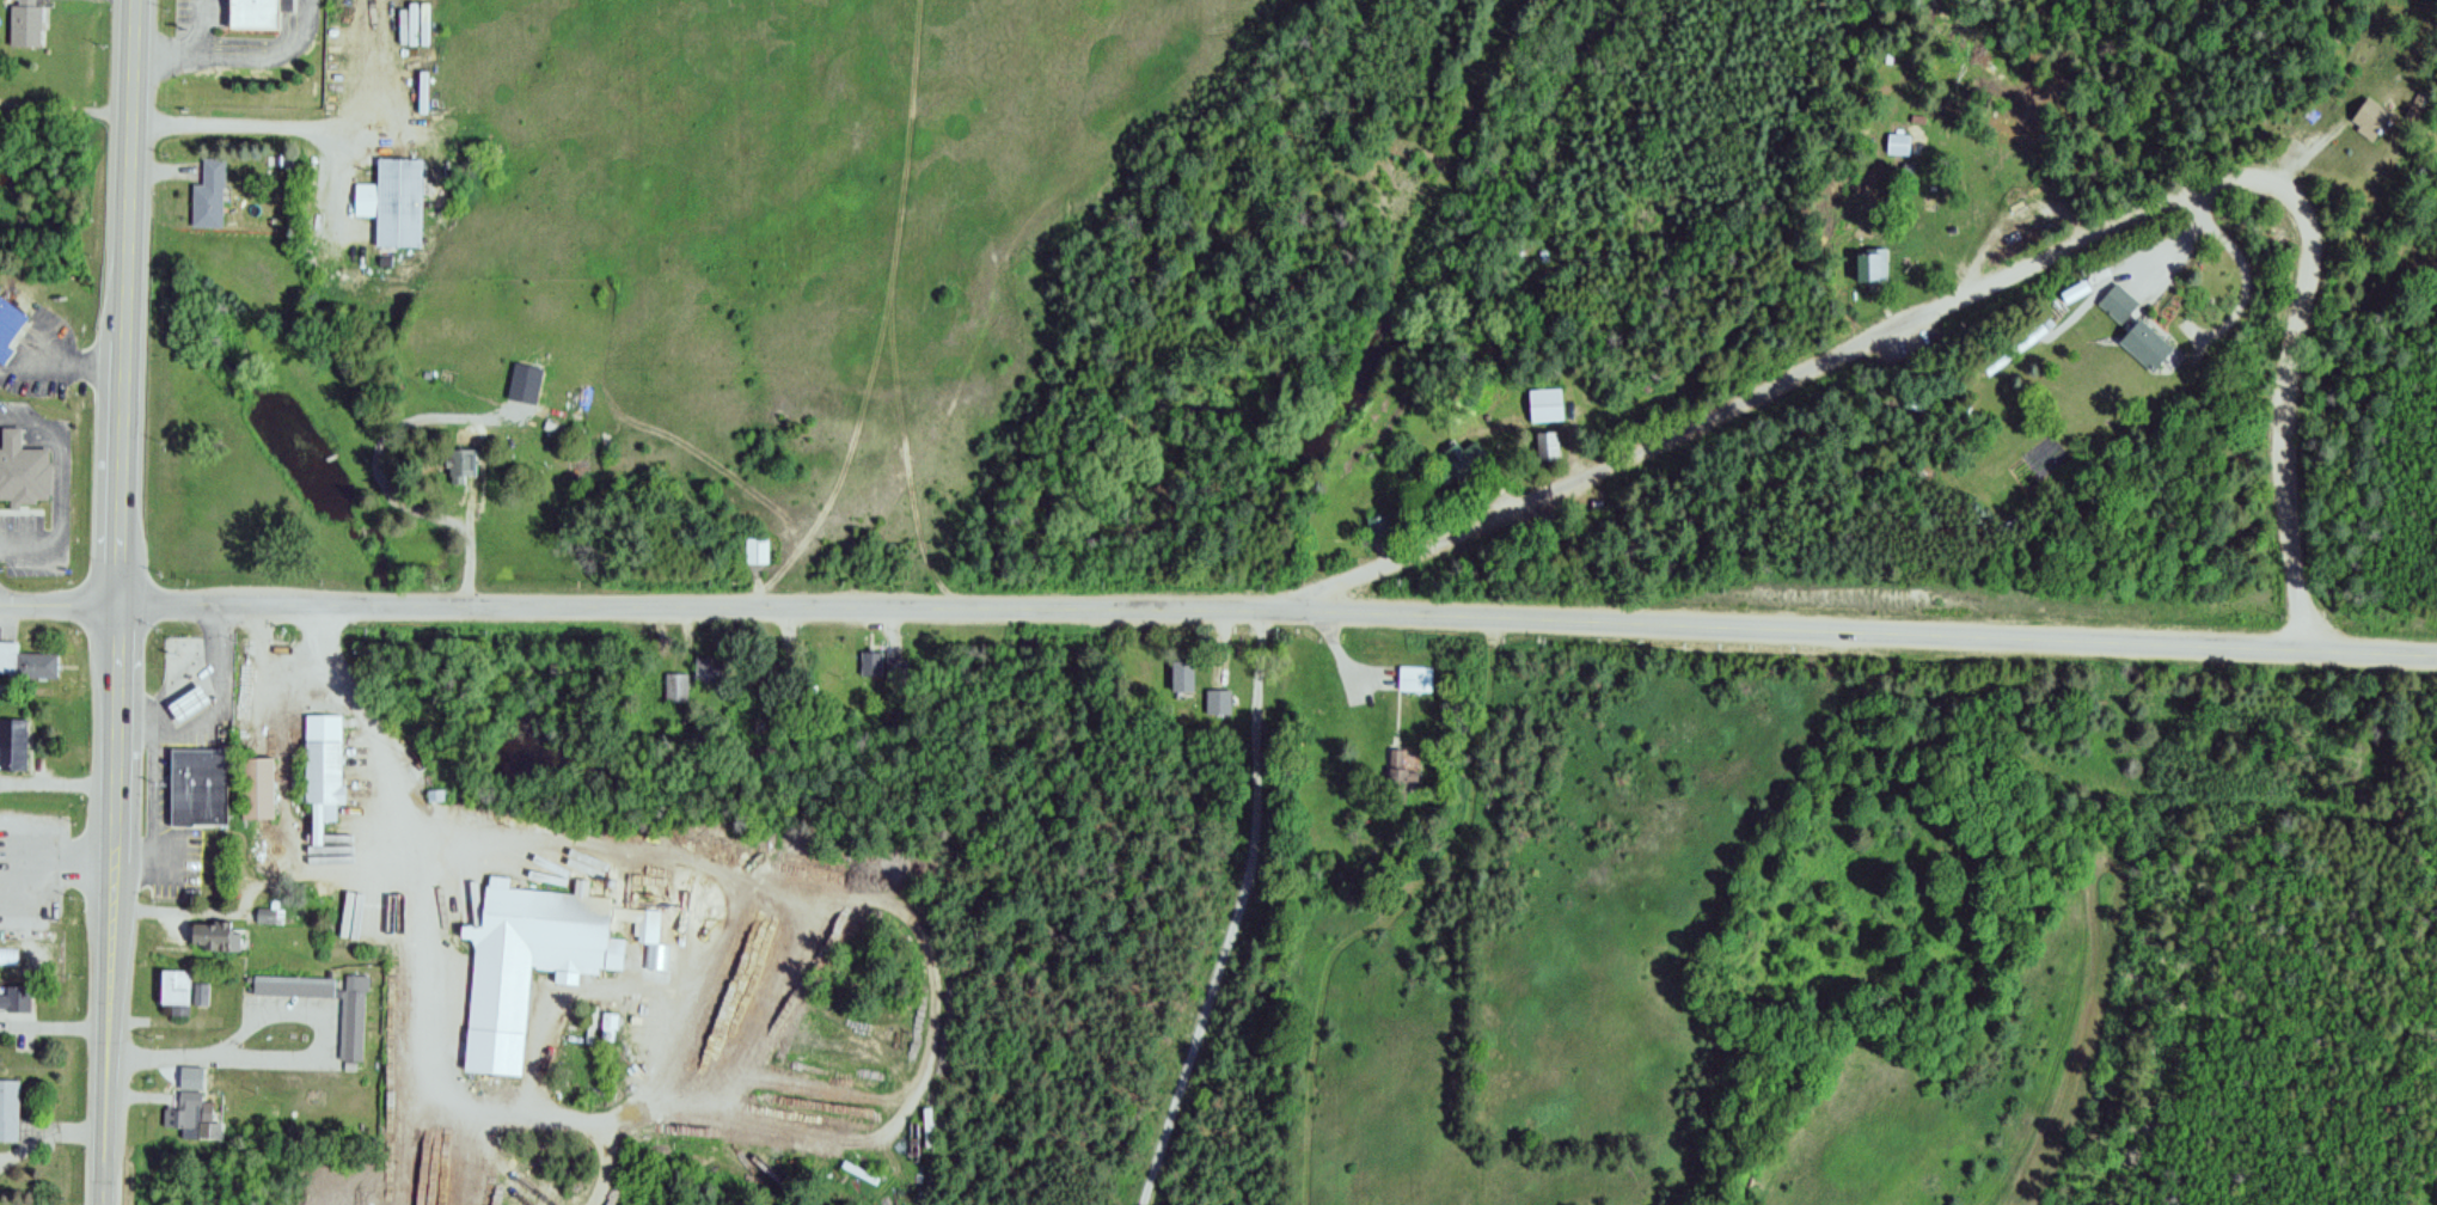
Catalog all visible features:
building: (253, 11)
building: (24, 20)
road: (198, 25)
road: (228, 50)
building: (2369, 120)
road: (267, 126)
building: (1899, 146)
road: (337, 184)
building: (206, 188)
building: (391, 198)
road: (2235, 238)
building: (1873, 268)
road: (2012, 275)
building: (2118, 305)
building: (8, 320)
building: (2143, 345)
building: (2009, 353)
road: (59, 368)
building: (1545, 406)
building: (11, 432)
building: (1548, 447)
building: (459, 460)
building: (24, 470)
road: (56, 489)
building: (1378, 527)
building: (754, 549)
road: (116, 602)
road: (657, 608)
road: (1875, 632)
building: (24, 656)
building: (872, 666)
building: (709, 667)
building: (767, 669)
building: (1182, 678)
building: (1415, 679)
building: (672, 684)
building: (188, 702)
building: (1219, 703)
road: (353, 707)
building: (11, 735)
building: (324, 769)
building: (256, 784)
building: (197, 787)
road: (8, 816)
road: (17, 861)
road: (63, 861)
road: (743, 876)
road: (8, 909)
building: (267, 910)
road: (1237, 913)
building: (216, 928)
building: (7, 952)
building: (532, 956)
building: (176, 984)
building: (198, 987)
building: (16, 993)
road: (414, 1007)
road: (276, 1015)
road: (53, 1023)
building: (348, 1023)
road: (204, 1057)
building: (8, 1103)
building: (183, 1109)
building: (929, 1128)
road: (48, 1134)
road: (849, 1151)

